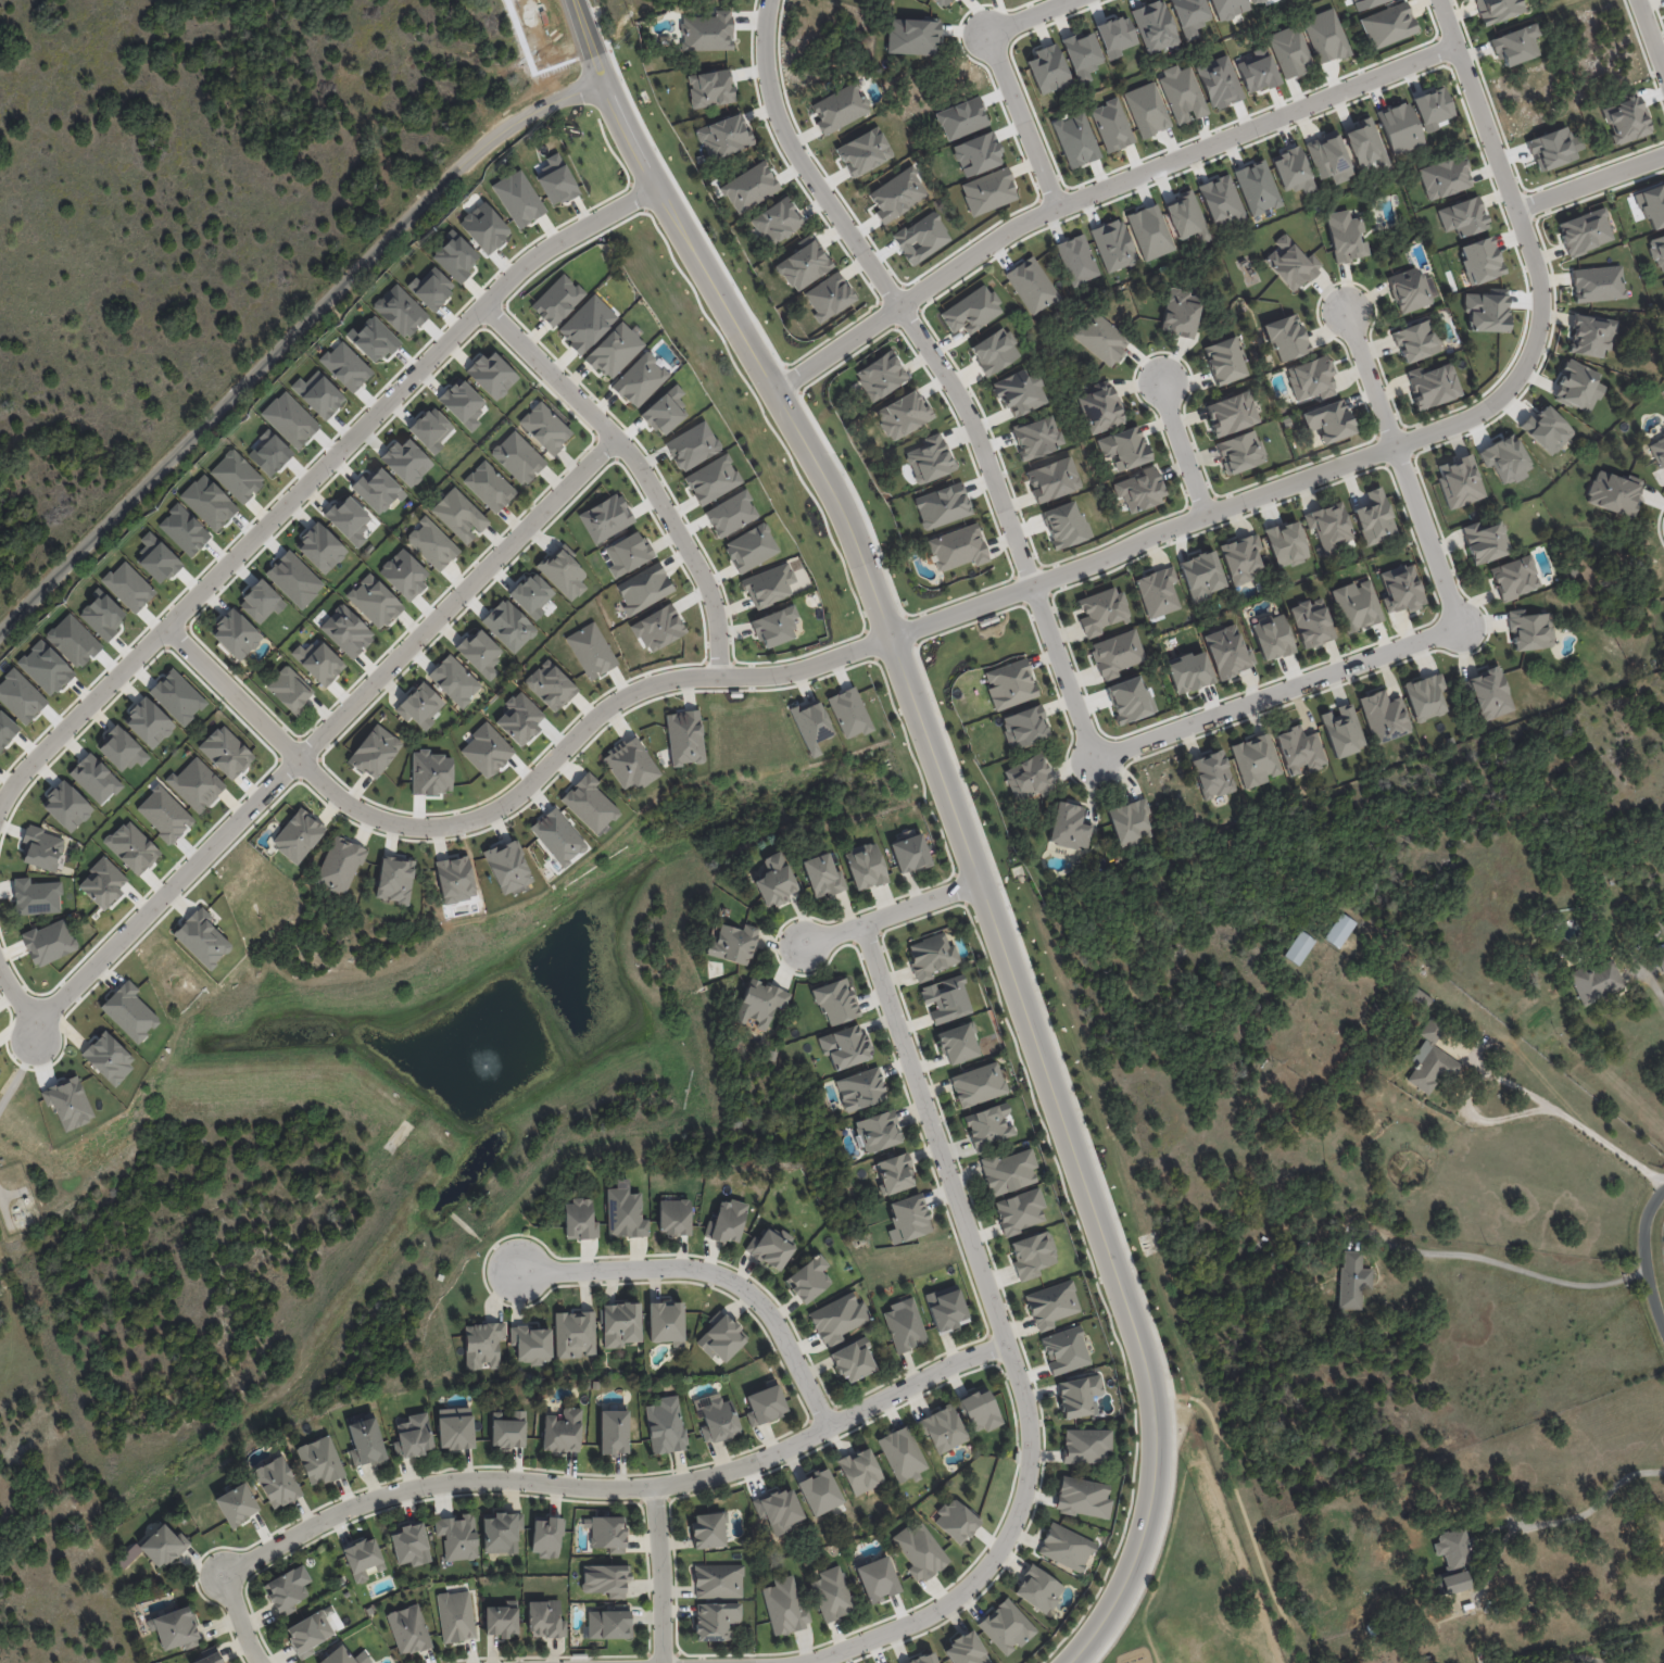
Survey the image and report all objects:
building: (1256, 1)
building: (940, 2)
building: (1364, 3)
building: (1227, 8)
building: (1497, 10)
building: (1189, 16)
building: (1387, 25)
building: (1155, 26)
building: (708, 32)
road: (584, 34)
building: (912, 36)
building: (1115, 36)
building: (1325, 36)
road: (1648, 43)
building: (1515, 45)
building: (1289, 51)
building: (1081, 54)
building: (1047, 68)
building: (1256, 70)
road: (1001, 79)
building: (1219, 81)
building: (709, 88)
building: (1182, 95)
building: (840, 108)
building: (1432, 108)
building: (1146, 109)
building: (961, 118)
building: (1625, 119)
building: (1111, 125)
building: (1399, 128)
building: (723, 137)
building: (1074, 138)
building: (1364, 144)
building: (1551, 149)
building: (863, 152)
building: (976, 154)
building: (1328, 158)
road: (798, 164)
building: (1291, 171)
building: (1444, 177)
building: (555, 180)
road: (1590, 181)
building: (749, 187)
building: (1257, 188)
road: (1100, 189)
building: (988, 191)
building: (897, 194)
building: (518, 198)
road: (666, 201)
building: (1220, 202)
building: (1652, 205)
building: (1186, 216)
building: (1462, 216)
building: (777, 221)
building: (484, 227)
building: (1584, 230)
building: (1149, 231)
building: (1345, 237)
building: (921, 238)
building: (1113, 244)
building: (1656, 251)
building: (1076, 260)
building: (1479, 261)
building: (1291, 263)
building: (803, 265)
building: (1597, 284)
building: (1031, 285)
building: (1663, 286)
building: (1408, 290)
building: (828, 297)
building: (556, 300)
building: (400, 311)
building: (971, 311)
building: (1485, 312)
building: (1180, 313)
building: (587, 324)
building: (1590, 336)
road: (288, 337)
building: (1286, 337)
building: (1100, 338)
building: (1415, 341)
building: (614, 351)
building: (994, 351)
building: (1224, 361)
building: (345, 366)
road: (1371, 371)
building: (492, 374)
building: (880, 376)
building: (1310, 378)
building: (640, 379)
building: (1432, 385)
building: (1577, 386)
building: (1020, 391)
building: (318, 394)
street lamp: (1482, 398)
building: (462, 403)
building: (1099, 408)
building: (665, 411)
building: (1231, 414)
building: (903, 415)
building: (289, 419)
building: (1327, 420)
building: (1663, 424)
building: (544, 427)
building: (430, 429)
building: (1547, 429)
building: (1036, 437)
road: (1395, 439)
building: (692, 445)
road: (1182, 446)
building: (1124, 448)
building: (1657, 451)
building: (1239, 452)
building: (517, 457)
building: (929, 458)
building: (1504, 458)
building: (405, 462)
road: (639, 464)
road: (313, 469)
building: (237, 476)
building: (711, 479)
building: (1052, 479)
building: (1459, 481)
building: (489, 486)
building: (377, 490)
building: (1138, 490)
building: (1613, 492)
building: (206, 502)
building: (942, 505)
building: (730, 514)
building: (459, 515)
building: (1374, 517)
building: (605, 518)
building: (348, 519)
building: (1064, 525)
road: (1011, 526)
building: (1329, 526)
road: (1426, 530)
building: (1485, 541)
building: (431, 543)
building: (1286, 543)
building: (320, 547)
building: (751, 547)
building: (957, 547)
building: (627, 553)
building: (1241, 558)
building: (563, 571)
building: (403, 574)
building: (1201, 575)
building: (1514, 577)
building: (768, 585)
building: (128, 587)
building: (1400, 588)
building: (643, 589)
building: (1158, 592)
building: (531, 594)
road: (457, 596)
building: (260, 601)
building: (374, 601)
building: (1356, 605)
building: (1100, 610)
building: (1311, 622)
building: (508, 626)
building: (774, 627)
building: (658, 628)
building: (1529, 630)
building: (345, 631)
building: (236, 634)
building: (1272, 637)
building: (591, 651)
building: (1227, 652)
building: (479, 653)
building: (1115, 653)
building: (319, 662)
building: (1188, 671)
building: (454, 680)
building: (1009, 683)
building: (550, 685)
building: (289, 689)
road: (1274, 691)
building: (1489, 693)
building: (20, 696)
building: (1425, 696)
building: (1130, 698)
building: (419, 705)
building: (848, 713)
building: (1384, 716)
building: (148, 722)
building: (810, 726)
building: (1024, 727)
building: (1341, 730)
building: (684, 738)
building: (121, 749)
building: (1299, 749)
building: (374, 751)
building: (226, 752)
building: (1255, 760)
building: (630, 764)
building: (1212, 774)
building: (94, 778)
building: (1028, 778)
building: (196, 784)
road: (510, 803)
building: (589, 804)
building: (66, 806)
building: (1130, 822)
building: (1069, 827)
building: (297, 835)
building: (557, 836)
building: (40, 847)
building: (910, 854)
building: (339, 865)
building: (507, 866)
building: (865, 866)
building: (822, 875)
building: (454, 879)
building: (394, 880)
building: (779, 880)
road: (168, 887)
road: (890, 914)
building: (1340, 931)
building: (201, 938)
building: (48, 942)
building: (739, 944)
building: (1299, 948)
building: (930, 956)
building: (1661, 963)
building: (1594, 983)
road: (1653, 983)
road: (1014, 992)
road: (12, 996)
building: (1421, 997)
building: (946, 998)
building: (835, 1001)
building: (761, 1005)
building: (128, 1011)
building: (958, 1042)
building: (844, 1046)
building: (108, 1058)
building: (1432, 1059)
building: (976, 1084)
building: (867, 1089)
road: (1468, 1093)
building: (67, 1101)
building: (986, 1125)
building: (878, 1131)
road: (1606, 1144)
building: (1008, 1171)
building: (894, 1174)
building: (1020, 1211)
building: (627, 1214)
building: (679, 1217)
building: (908, 1219)
building: (579, 1220)
building: (728, 1221)
building: (772, 1248)
building: (1032, 1255)
road: (1643, 1260)
road: (1500, 1261)
road: (713, 1274)
building: (441, 1276)
building: (1351, 1280)
building: (811, 1281)
building: (1051, 1305)
building: (951, 1308)
building: (839, 1318)
building: (665, 1322)
building: (620, 1324)
building: (908, 1326)
building: (573, 1334)
building: (721, 1338)
building: (482, 1345)
building: (530, 1345)
road: (1008, 1346)
building: (1064, 1350)
building: (852, 1360)
building: (598, 1385)
building: (1079, 1396)
building: (702, 1403)
building: (764, 1404)
building: (980, 1411)
building: (702, 1413)
building: (721, 1423)
building: (668, 1427)
building: (942, 1428)
building: (509, 1429)
building: (458, 1431)
building: (565, 1431)
building: (616, 1433)
building: (417, 1437)
building: (368, 1445)
building: (1086, 1446)
building: (902, 1454)
building: (1021, 1457)
building: (323, 1461)
building: (859, 1471)
building: (279, 1483)
road: (569, 1485)
building: (818, 1491)
building: (1083, 1497)
building: (239, 1504)
building: (778, 1510)
road: (1589, 1510)
road: (1245, 1516)
building: (955, 1520)
building: (711, 1530)
building: (503, 1534)
building: (613, 1534)
building: (461, 1537)
building: (550, 1537)
road: (1159, 1537)
building: (412, 1545)
building: (166, 1546)
building: (1066, 1547)
building: (1453, 1550)
building: (920, 1551)
building: (366, 1558)
road: (659, 1573)
building: (605, 1579)
building: (877, 1579)
building: (717, 1580)
building: (1450, 1583)
building: (1038, 1589)
building: (289, 1592)
building: (832, 1593)
building: (1529, 1603)
building: (786, 1608)
building: (455, 1616)
building: (715, 1620)
building: (506, 1621)
building: (547, 1621)
building: (612, 1625)
building: (1006, 1626)
building: (179, 1629)
building: (411, 1629)
building: (312, 1634)
building: (965, 1650)
building: (1647, 1652)
building: (343, 1655)
building: (1652, 1656)
building: (213, 1659)
building: (923, 1659)
building: (1579, 1662)

